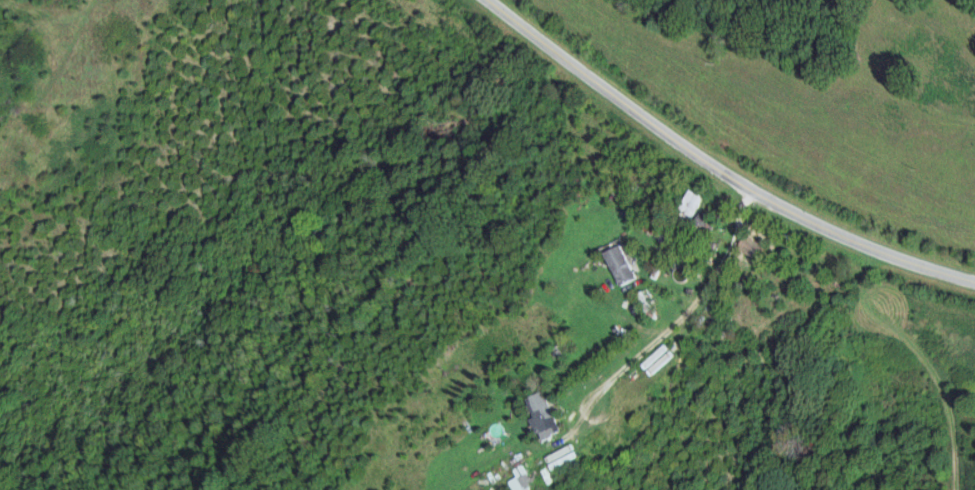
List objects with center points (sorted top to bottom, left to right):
road: (712, 170)
building: (688, 209)
road: (729, 262)
building: (620, 265)
building: (540, 415)
road: (596, 472)
building: (520, 479)

